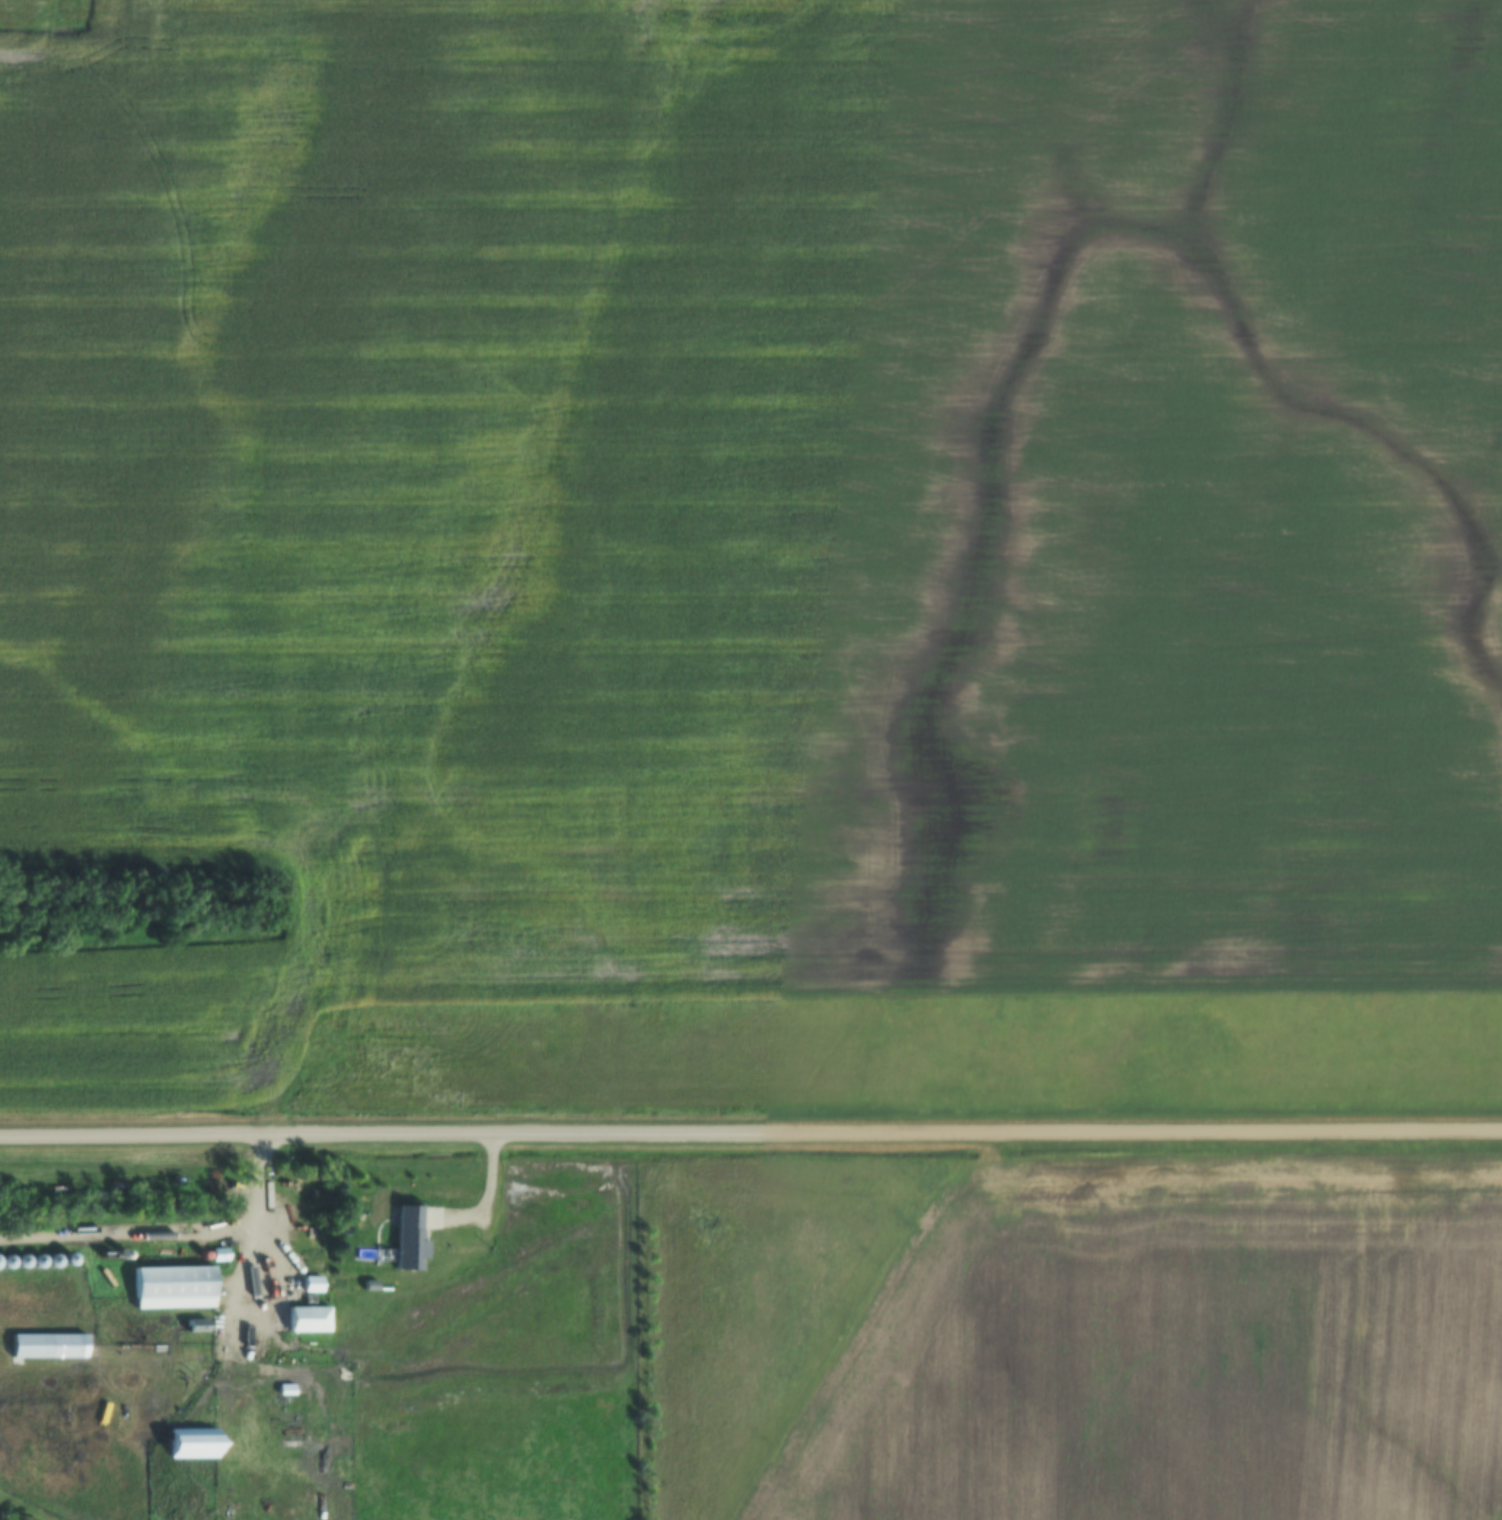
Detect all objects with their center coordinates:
road: (751, 1132)
road: (172, 1230)
building: (412, 1234)
building: (311, 1284)
building: (173, 1287)
road: (246, 1318)
building: (308, 1319)
building: (47, 1345)
building: (192, 1442)
road: (26, 1507)

